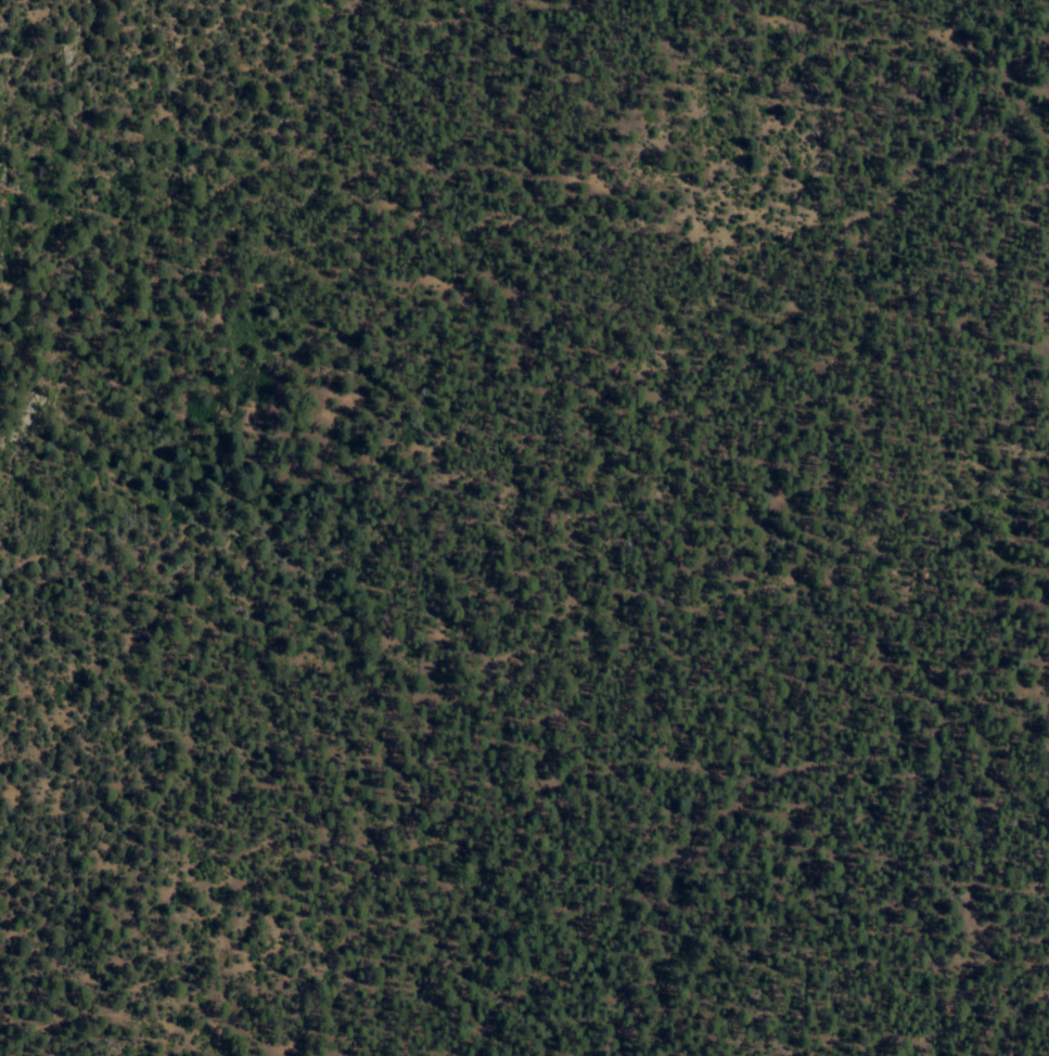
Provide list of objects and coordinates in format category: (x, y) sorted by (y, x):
road: (1039, 83)

